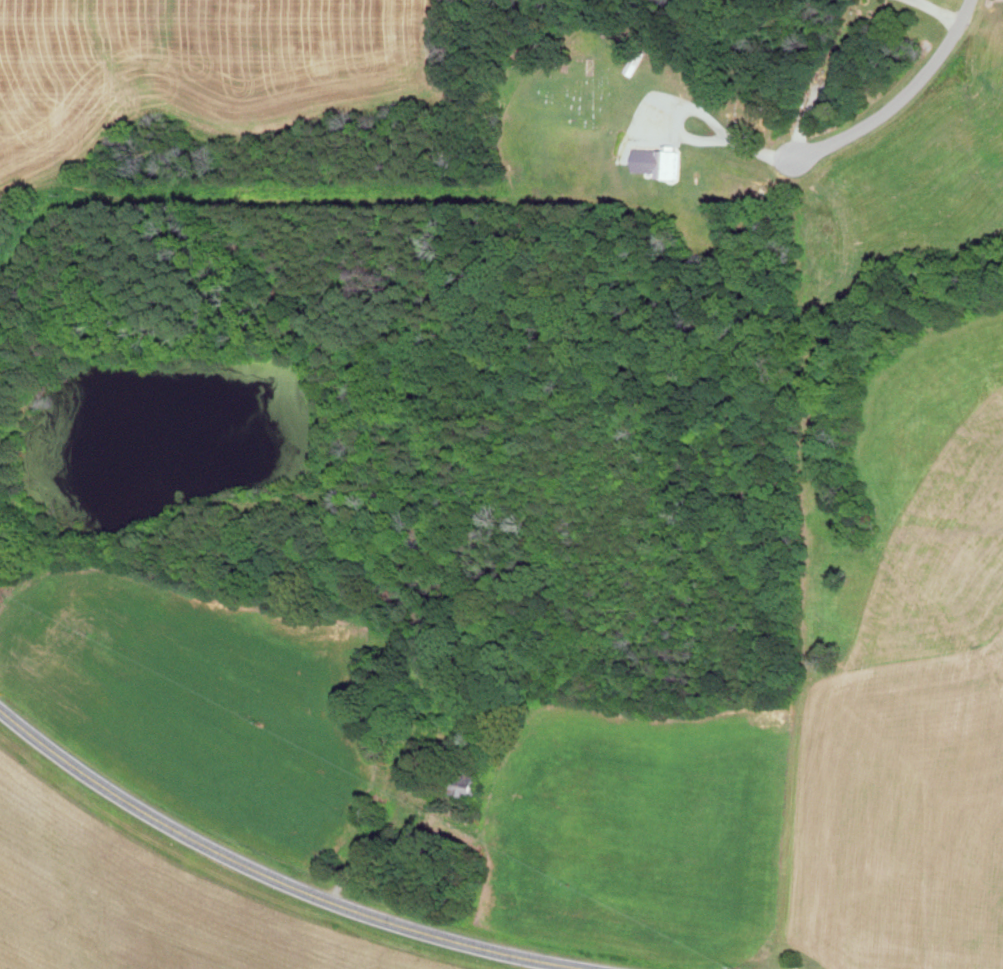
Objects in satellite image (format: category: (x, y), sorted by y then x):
park: (612, 88)
road: (869, 122)
building: (660, 162)
road: (276, 877)

